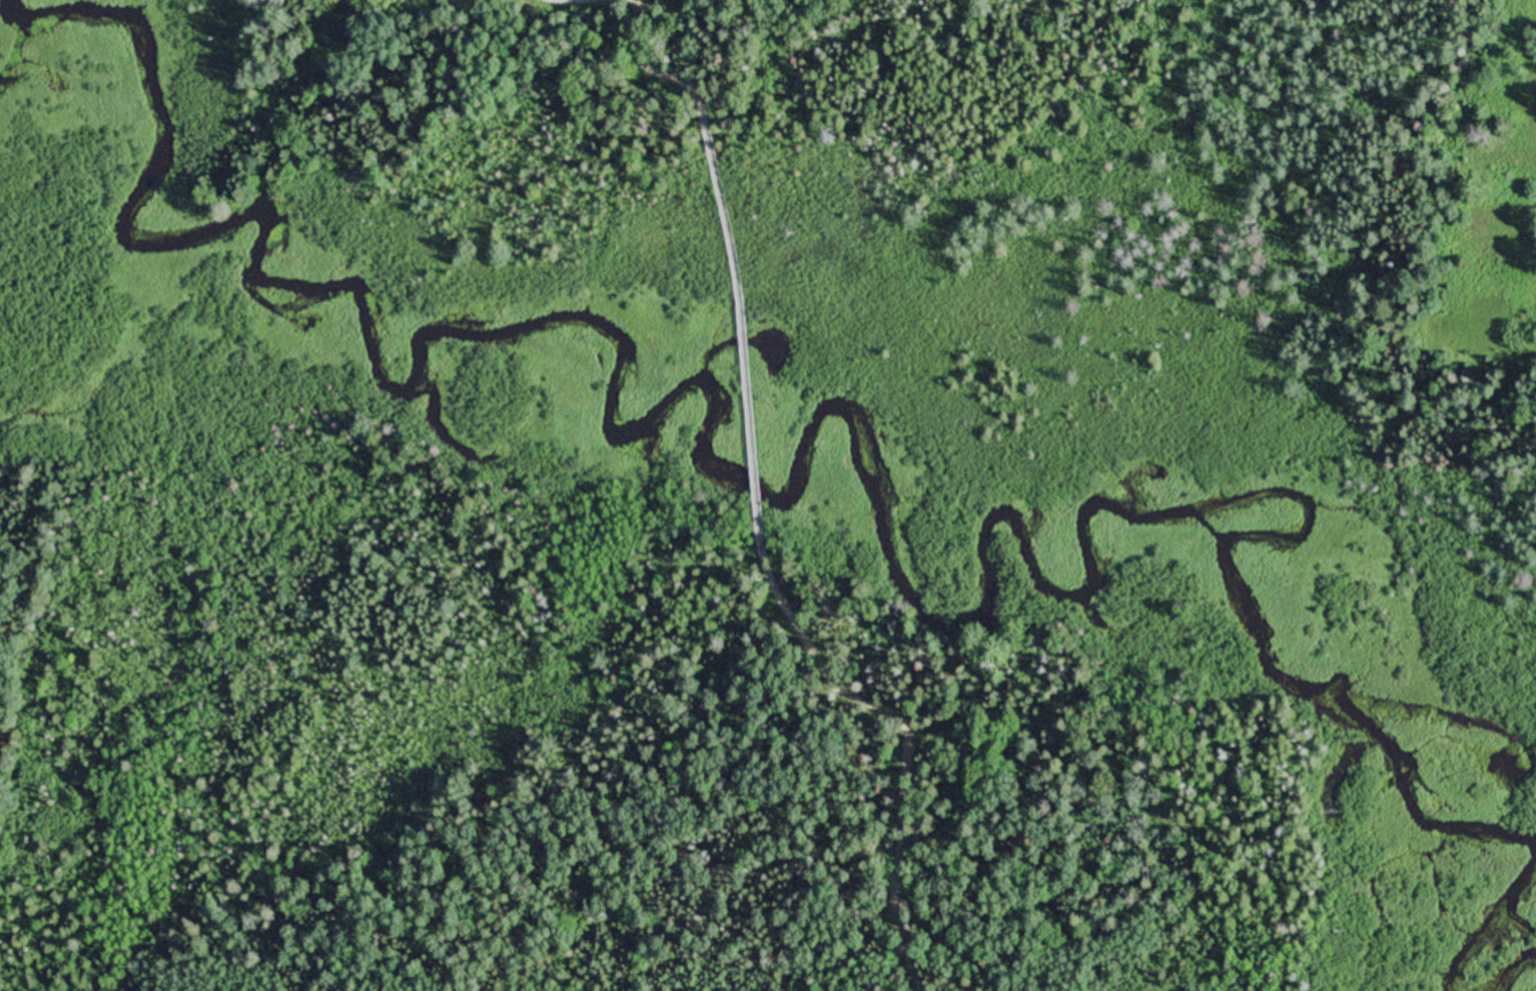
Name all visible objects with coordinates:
road: (637, 51)
road: (737, 318)
road: (902, 750)

